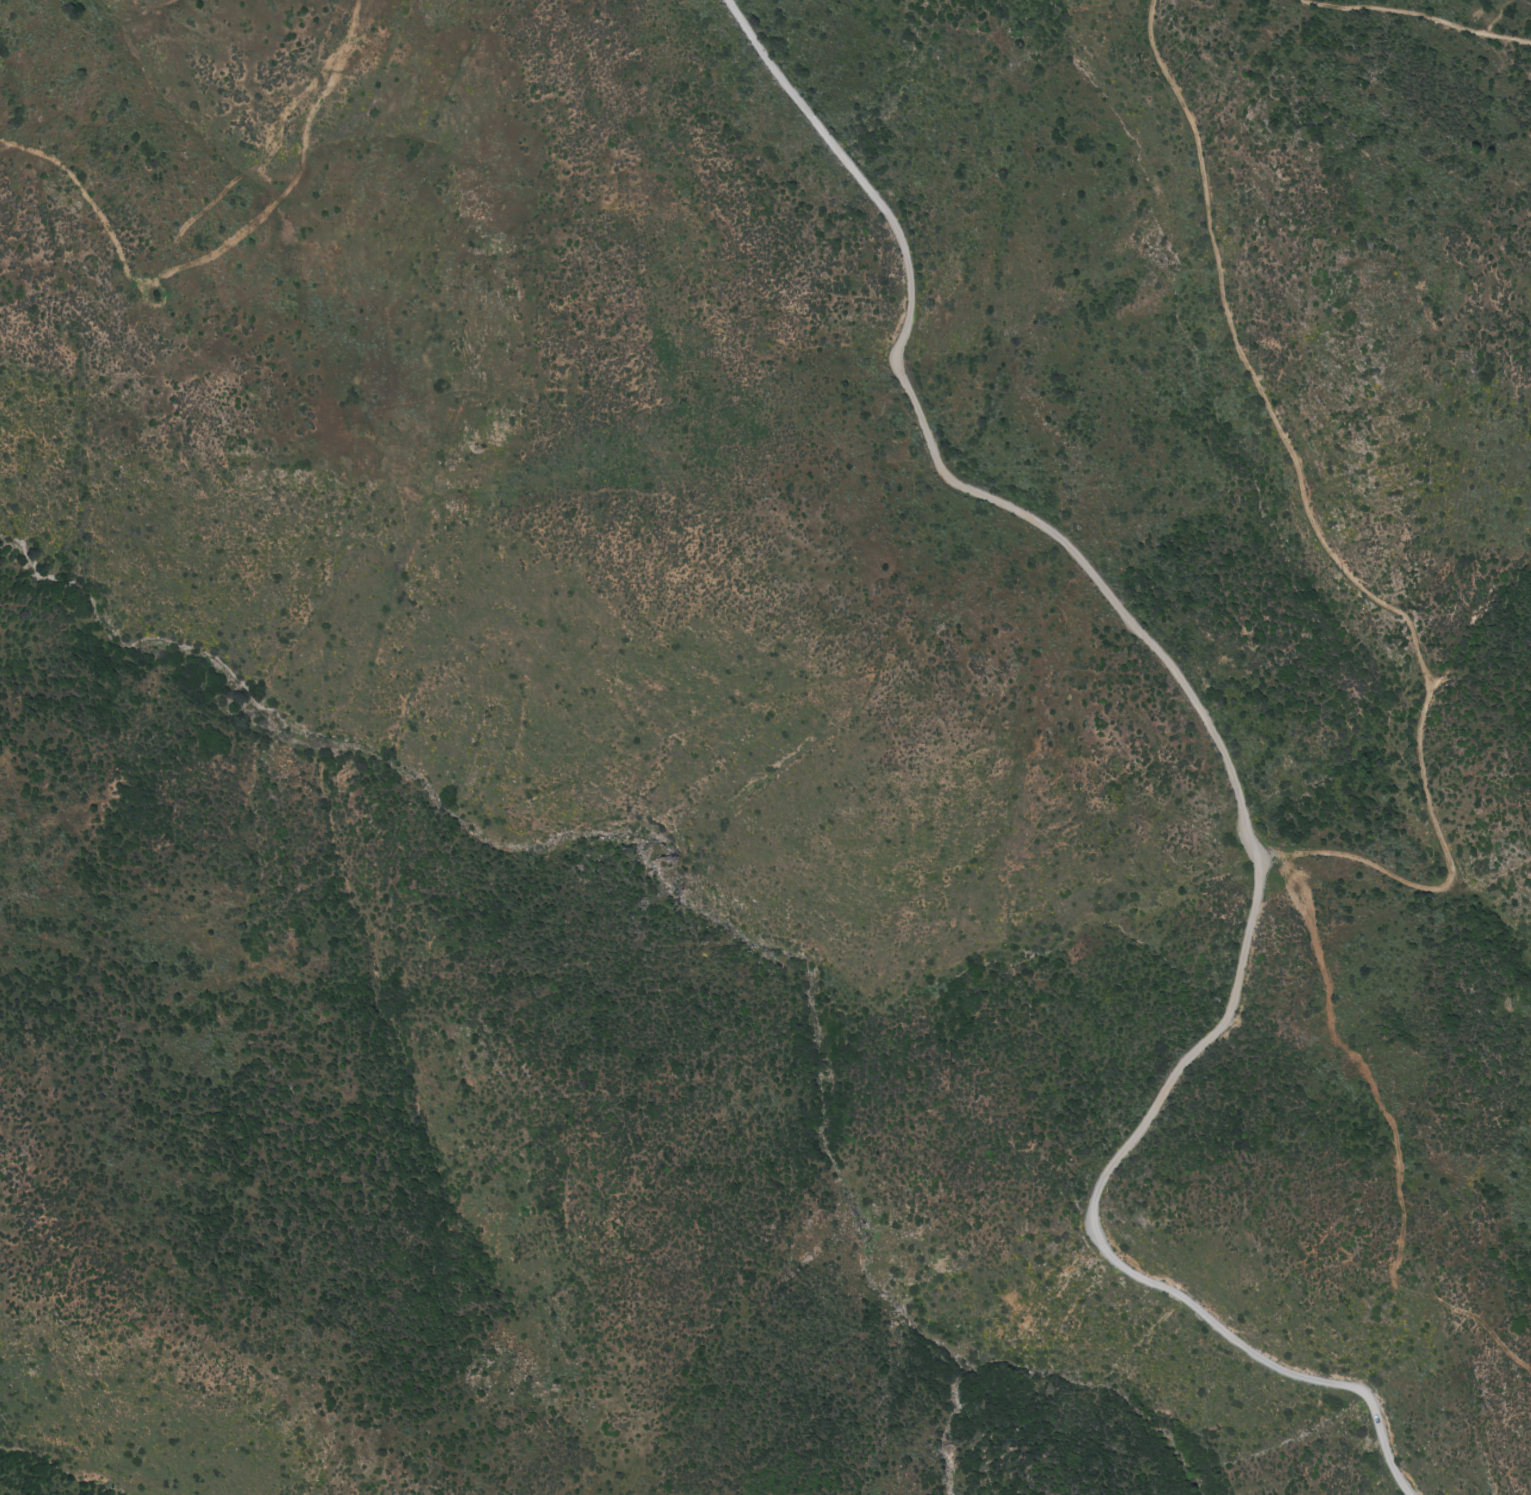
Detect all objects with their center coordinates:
road: (1410, 17)
road: (232, 255)
road: (1339, 556)
road: (1227, 762)
road: (1405, 1147)

